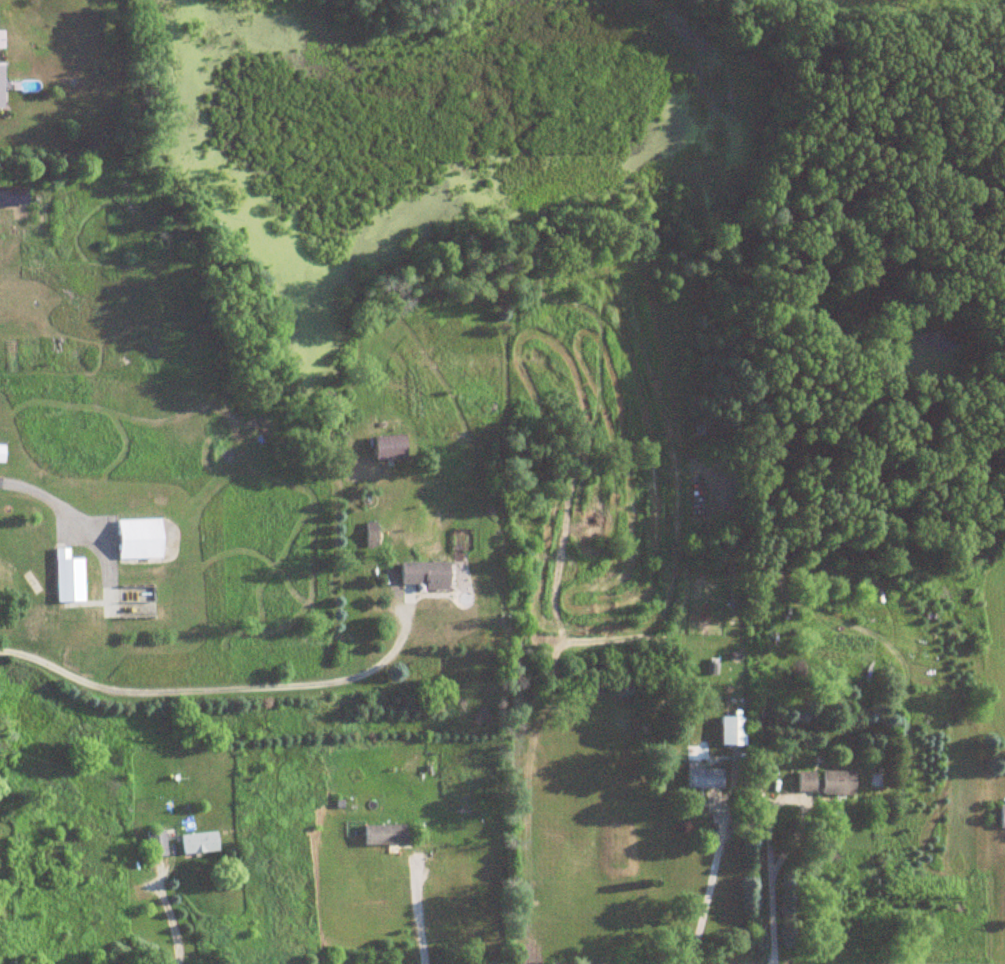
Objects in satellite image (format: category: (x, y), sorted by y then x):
building: (386, 447)
building: (0, 453)
road: (81, 529)
building: (368, 533)
building: (136, 538)
building: (421, 574)
building: (66, 577)
road: (218, 688)
building: (730, 730)
building: (702, 777)
building: (823, 783)
road: (791, 799)
building: (1001, 818)
building: (382, 835)
building: (197, 843)
building: (155, 844)
road: (708, 886)
road: (418, 912)
road: (168, 915)
road: (770, 919)

